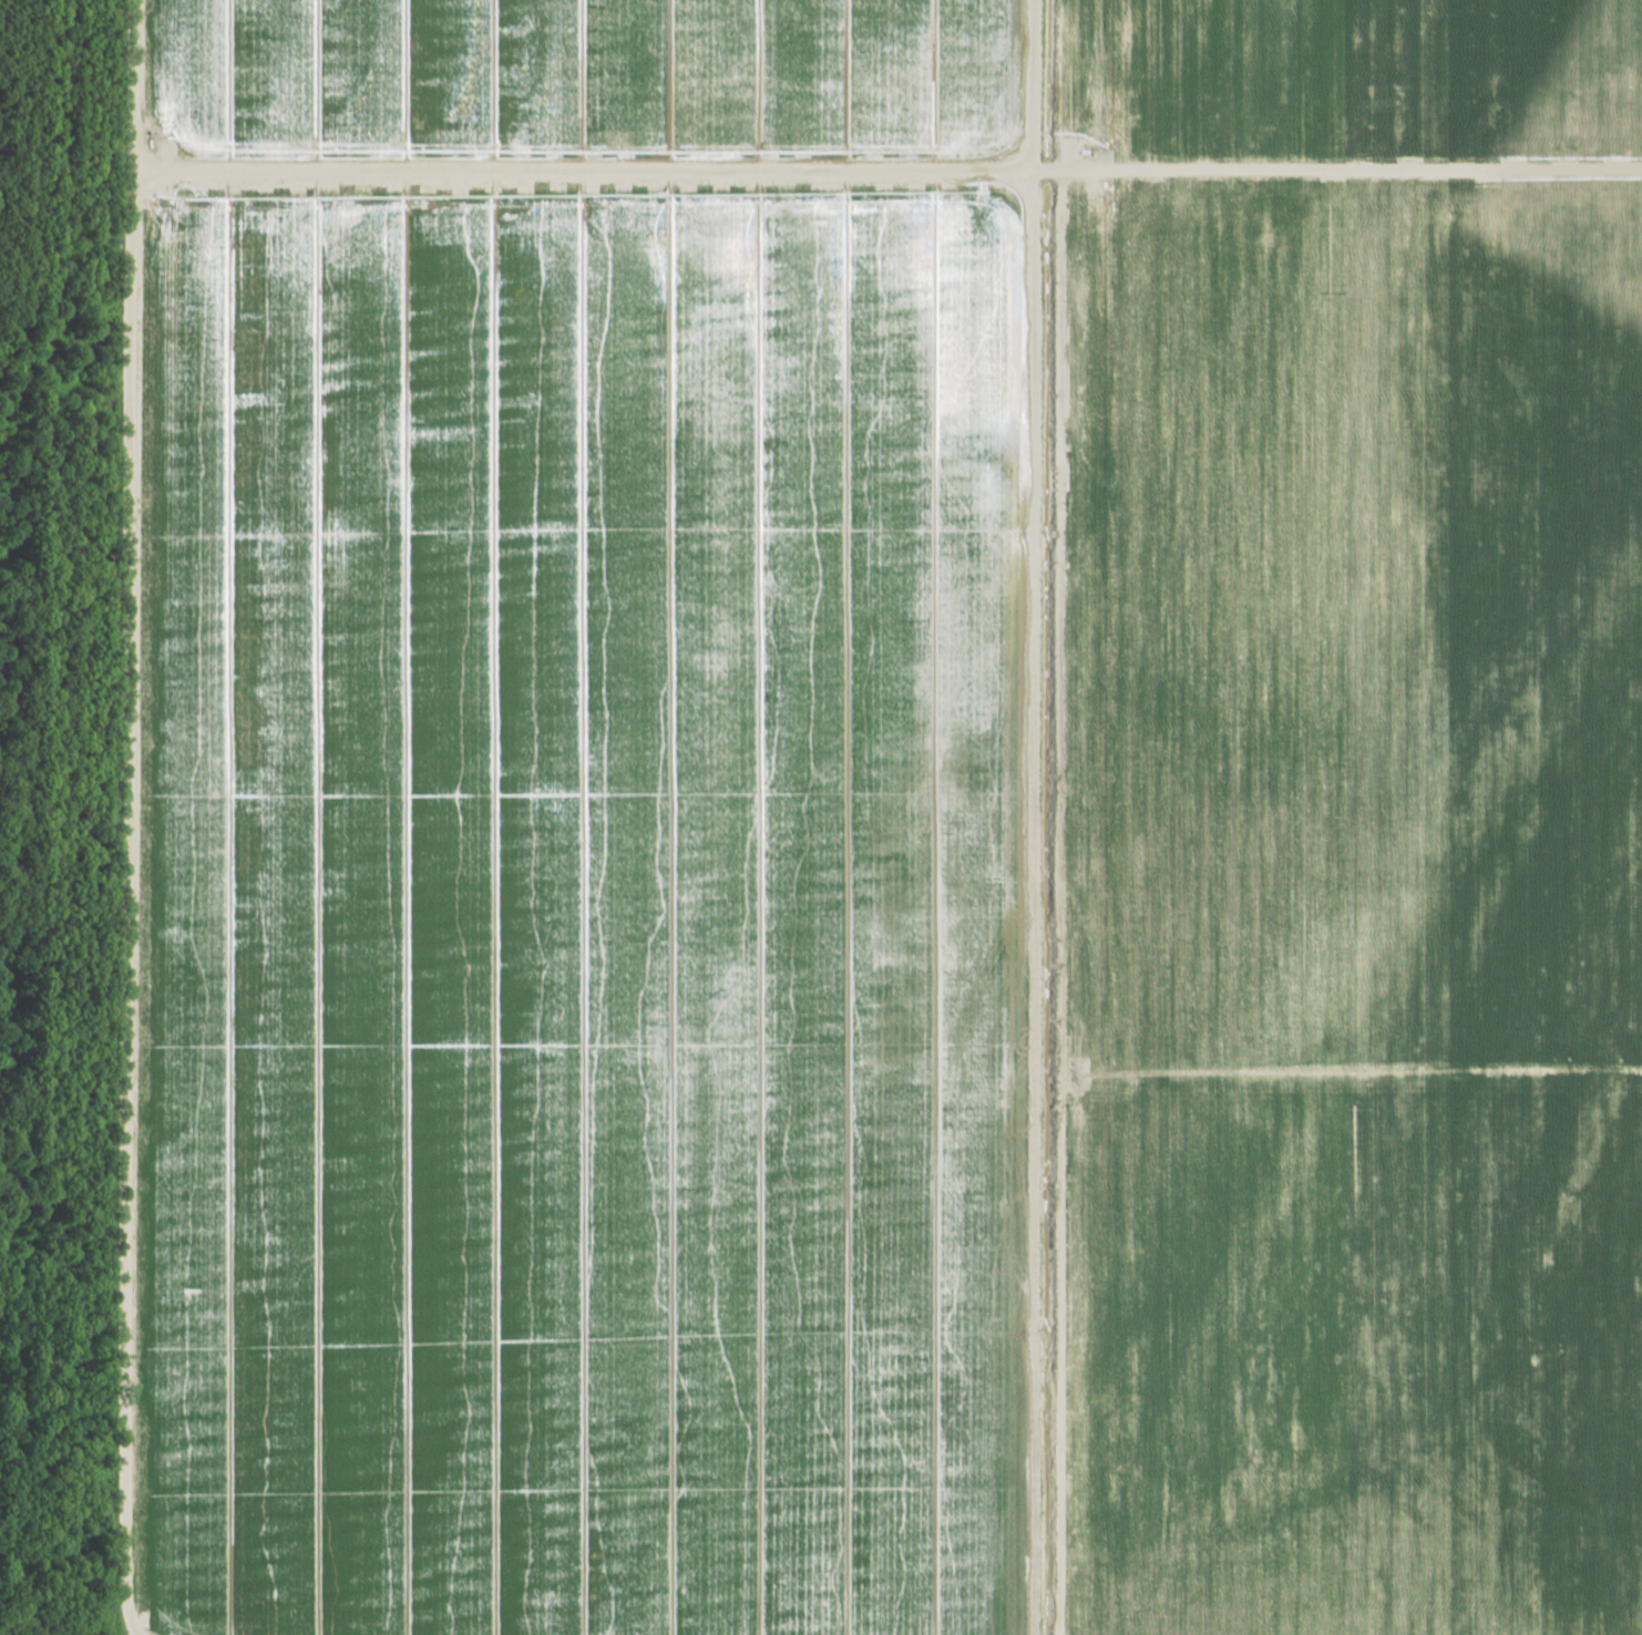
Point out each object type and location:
road: (127, 816)
road: (1597, 1252)

